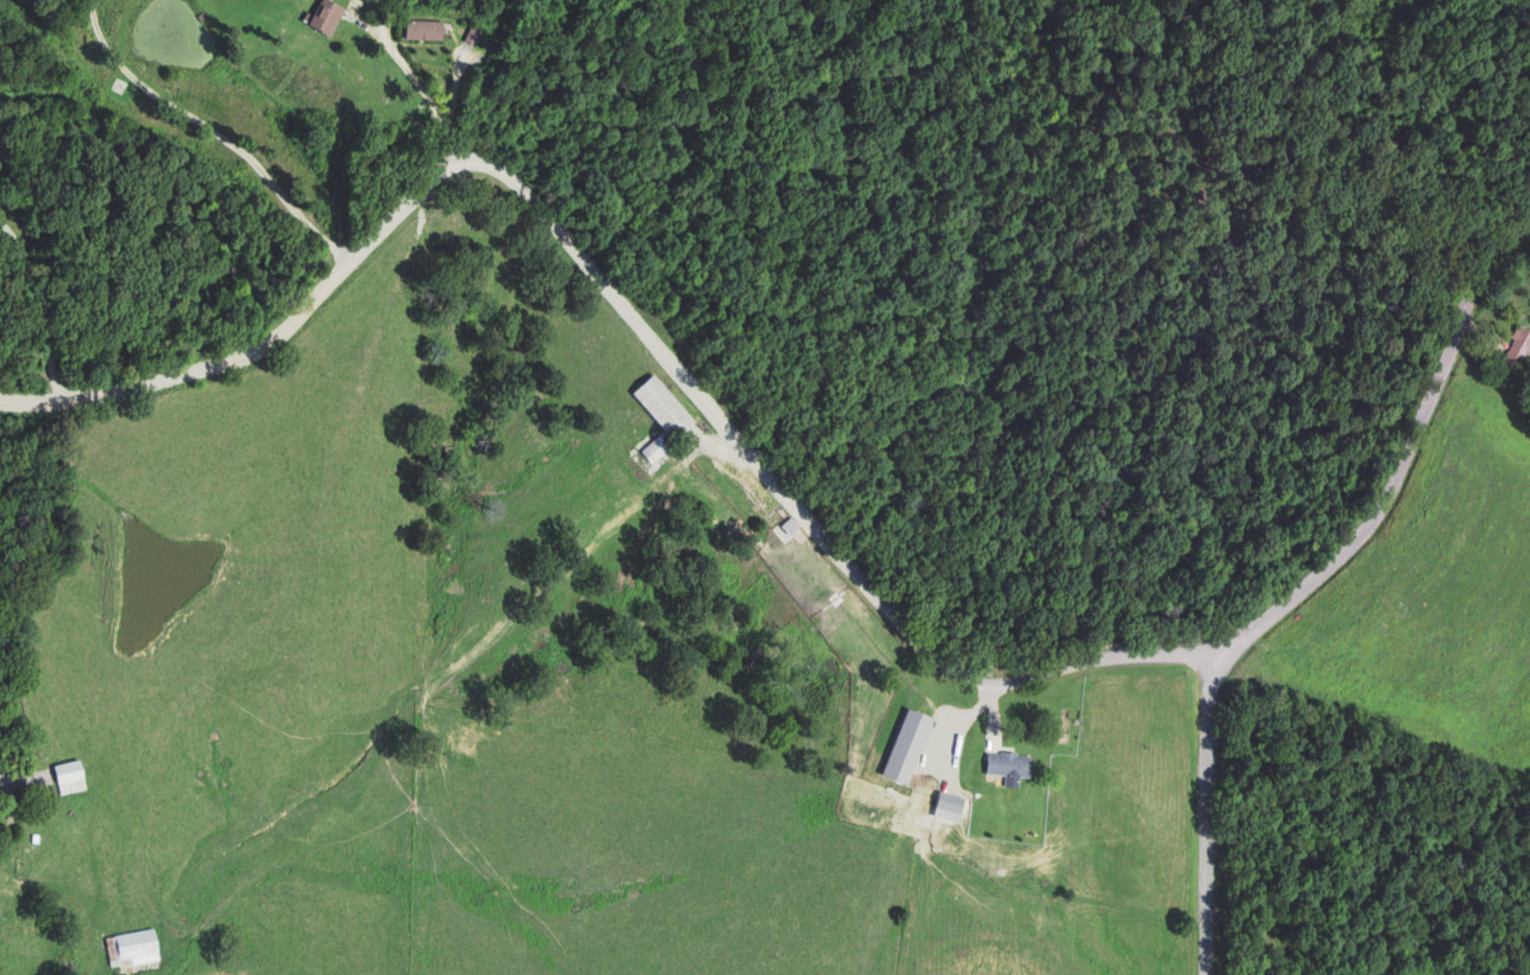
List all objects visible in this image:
building: (325, 18)
building: (424, 29)
road: (401, 112)
building: (1520, 340)
road: (603, 347)
building: (660, 415)
road: (1377, 482)
building: (788, 528)
building: (905, 746)
building: (1005, 763)
building: (68, 777)
building: (947, 807)
road: (1189, 821)
building: (6, 916)
building: (133, 948)

